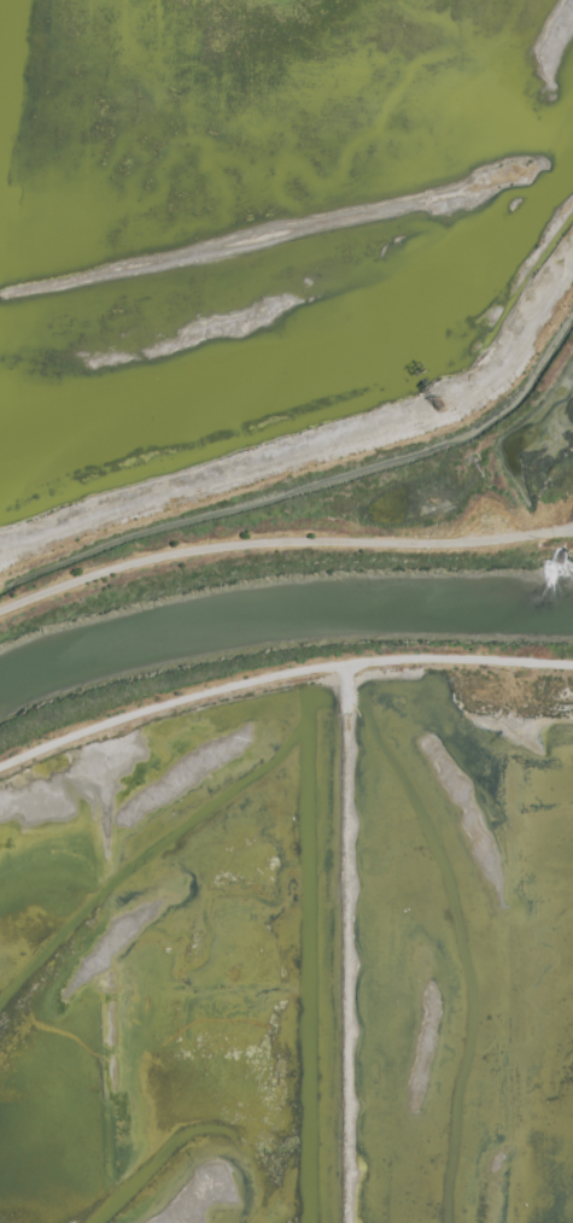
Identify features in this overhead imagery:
road: (279, 677)

